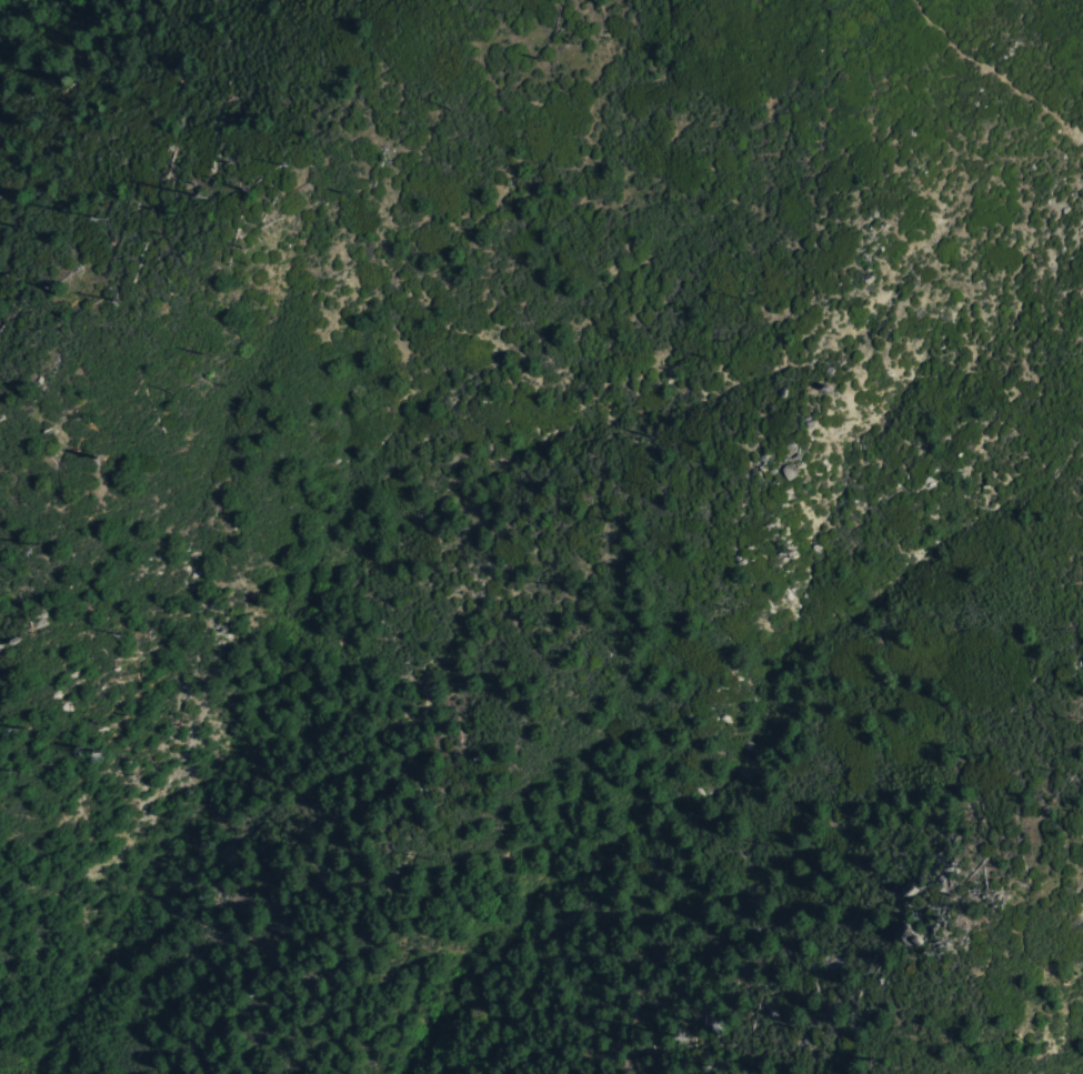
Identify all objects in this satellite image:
road: (994, 71)

